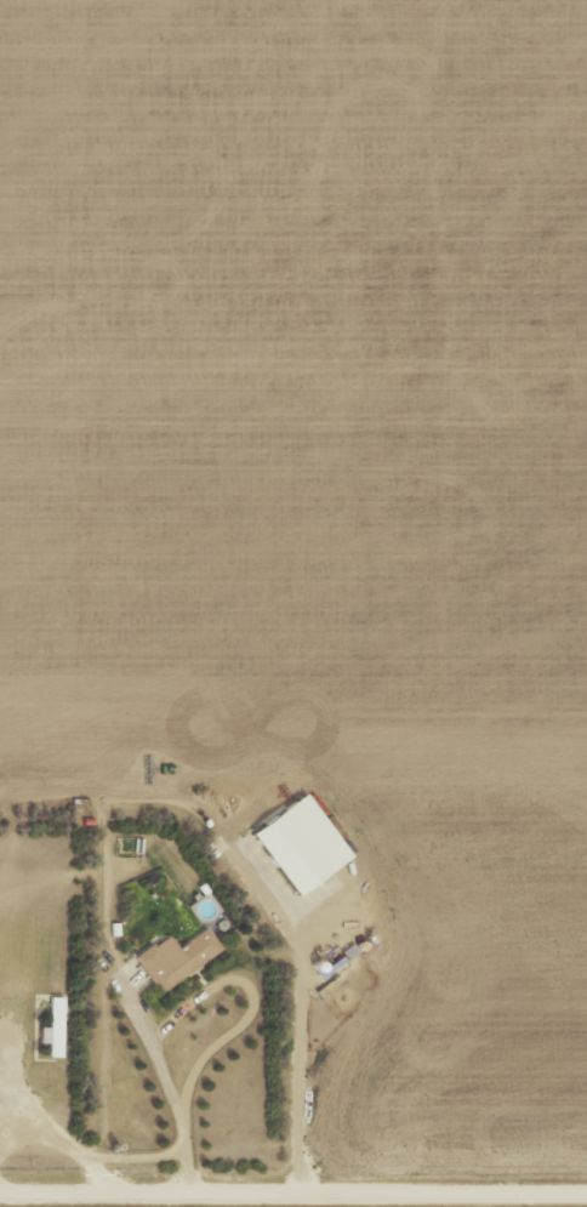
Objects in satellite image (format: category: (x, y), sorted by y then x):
building: (175, 961)
building: (51, 1029)
road: (293, 1185)

